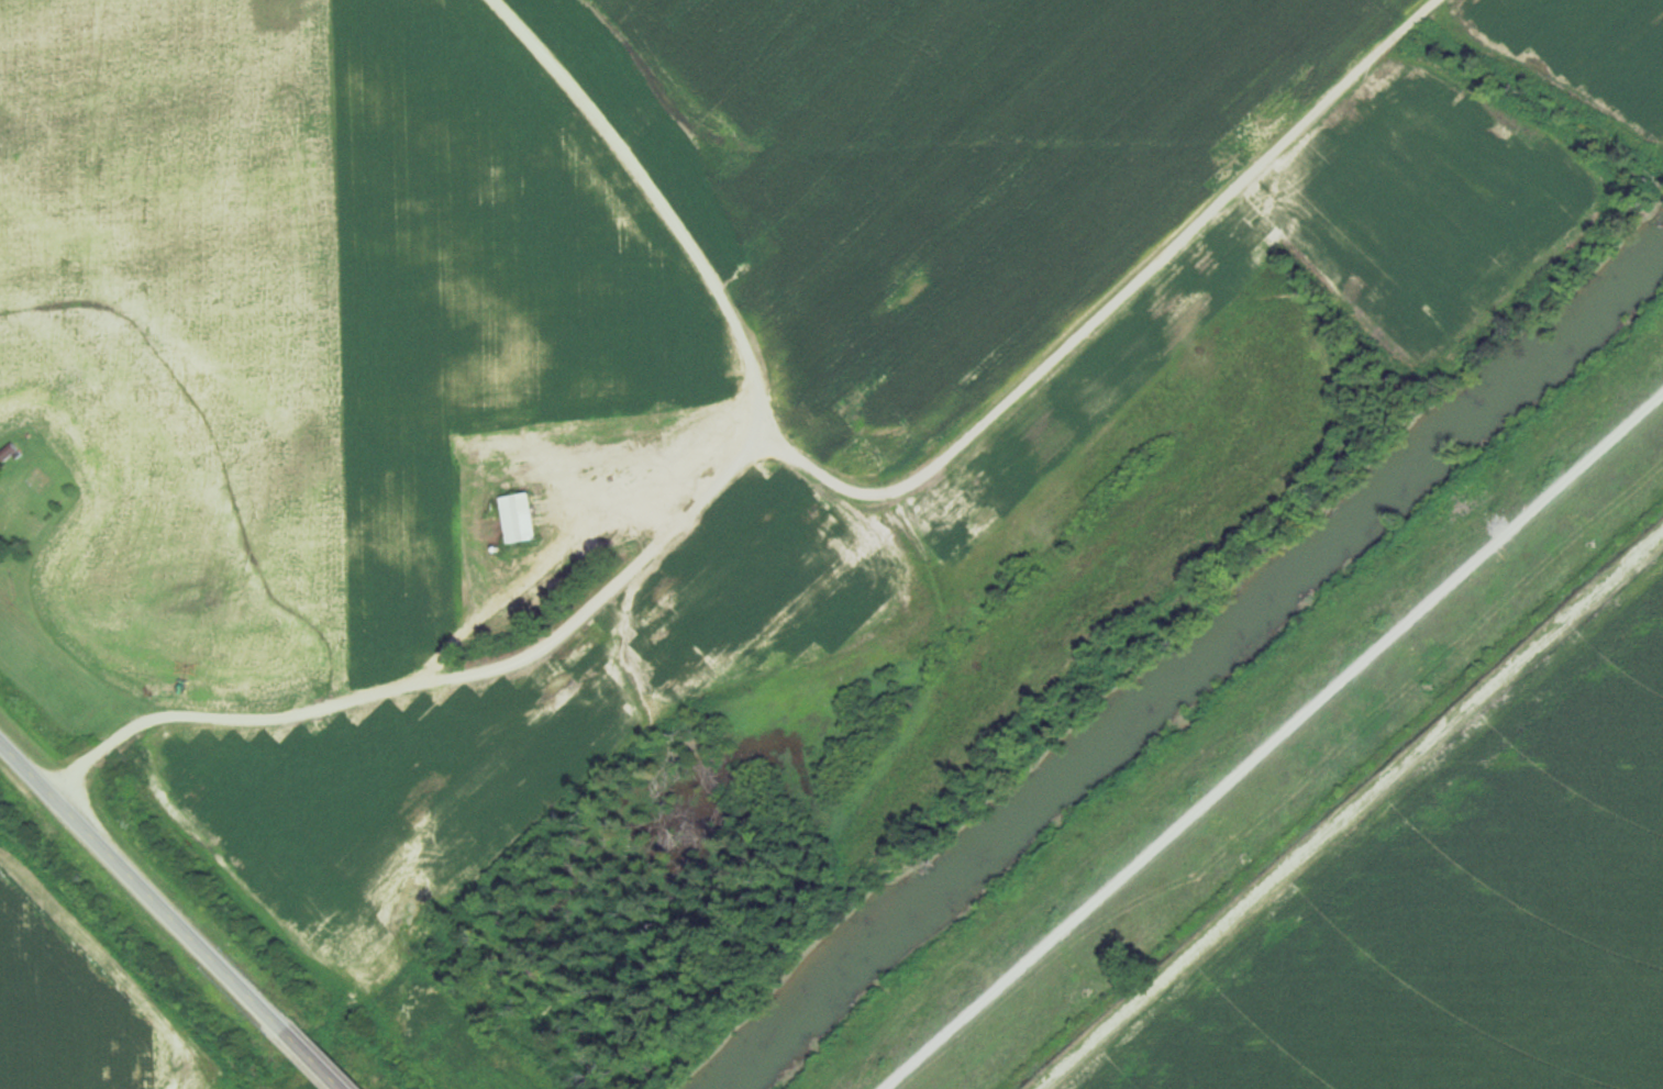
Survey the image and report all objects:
building: (10, 451)
road: (791, 457)
building: (520, 518)
road: (481, 613)
river: (1186, 663)
road: (1275, 744)
road: (144, 879)
road: (318, 1057)

